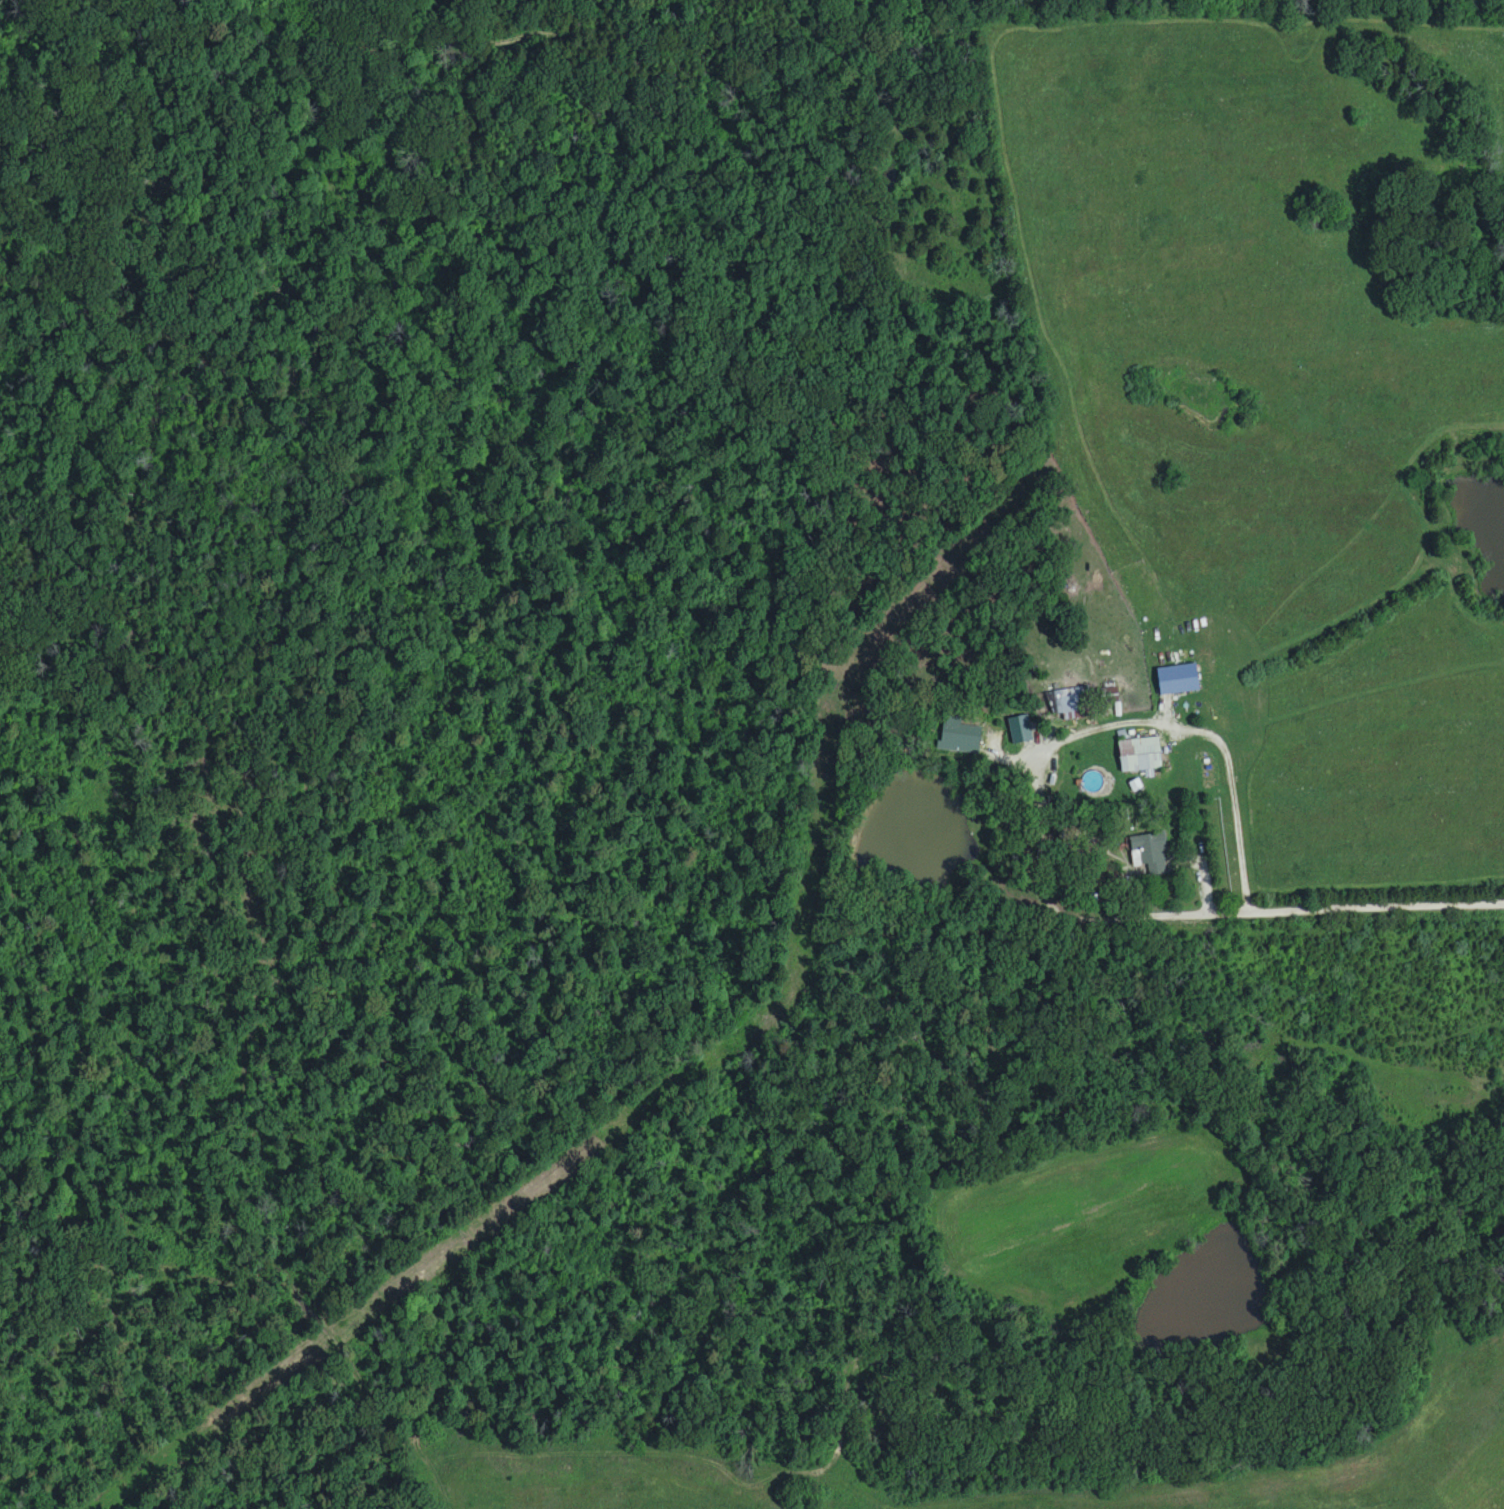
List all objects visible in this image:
road: (838, 689)
building: (1107, 696)
building: (1069, 702)
road: (1209, 730)
building: (1139, 756)
road: (1046, 848)
building: (1148, 855)
road: (790, 1000)

